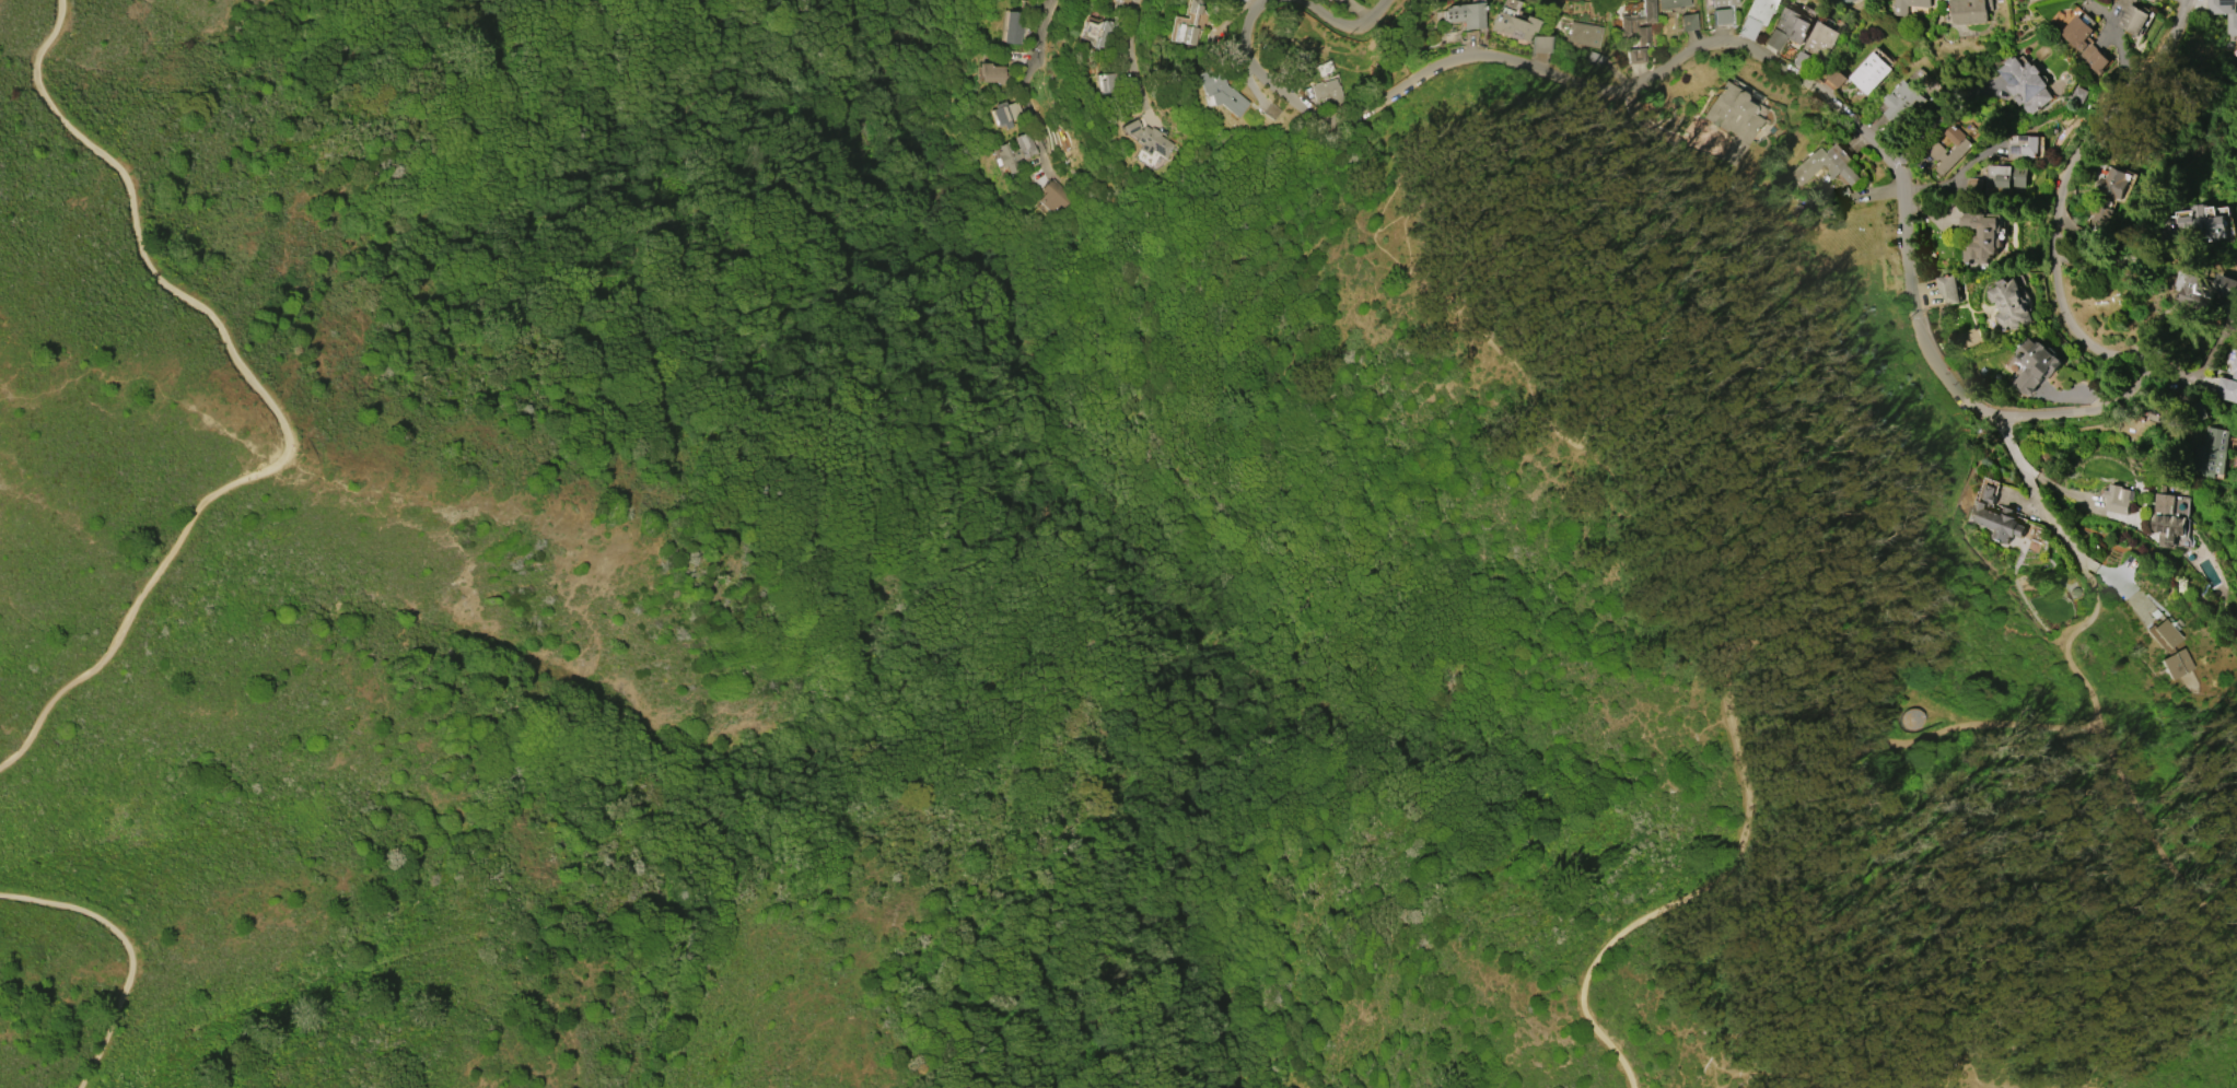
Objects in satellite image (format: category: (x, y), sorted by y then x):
building: (2154, 0)
building: (1117, 1)
building: (1722, 2)
building: (1671, 3)
building: (1899, 9)
building: (1761, 10)
building: (1969, 11)
building: (1464, 14)
building: (1721, 16)
building: (2134, 16)
building: (2060, 21)
building: (1191, 22)
building: (1636, 24)
building: (1792, 24)
building: (2232, 24)
road: (1340, 25)
building: (1513, 25)
building: (1012, 26)
road: (1132, 34)
building: (1583, 34)
building: (1819, 39)
building: (2085, 42)
building: (1539, 44)
building: (1635, 56)
road: (1666, 60)
building: (992, 73)
building: (1869, 73)
building: (1836, 78)
building: (2026, 84)
building: (1219, 91)
building: (1325, 91)
building: (1902, 100)
building: (1270, 112)
building: (1004, 113)
road: (1038, 116)
road: (1942, 117)
building: (1731, 119)
road: (1650, 127)
building: (1146, 139)
building: (2022, 147)
building: (1961, 148)
building: (1014, 151)
building: (1825, 165)
building: (2004, 178)
building: (2113, 183)
building: (1050, 196)
building: (2205, 223)
building: (1982, 232)
road: (2118, 265)
building: (1948, 289)
building: (2203, 290)
building: (2011, 305)
road: (2129, 358)
building: (2036, 364)
building: (2228, 383)
road: (264, 397)
building: (2206, 409)
building: (2211, 453)
building: (2118, 499)
building: (1995, 517)
building: (2167, 518)
building: (2168, 650)
road: (2069, 657)
road: (1804, 693)
road: (128, 951)

